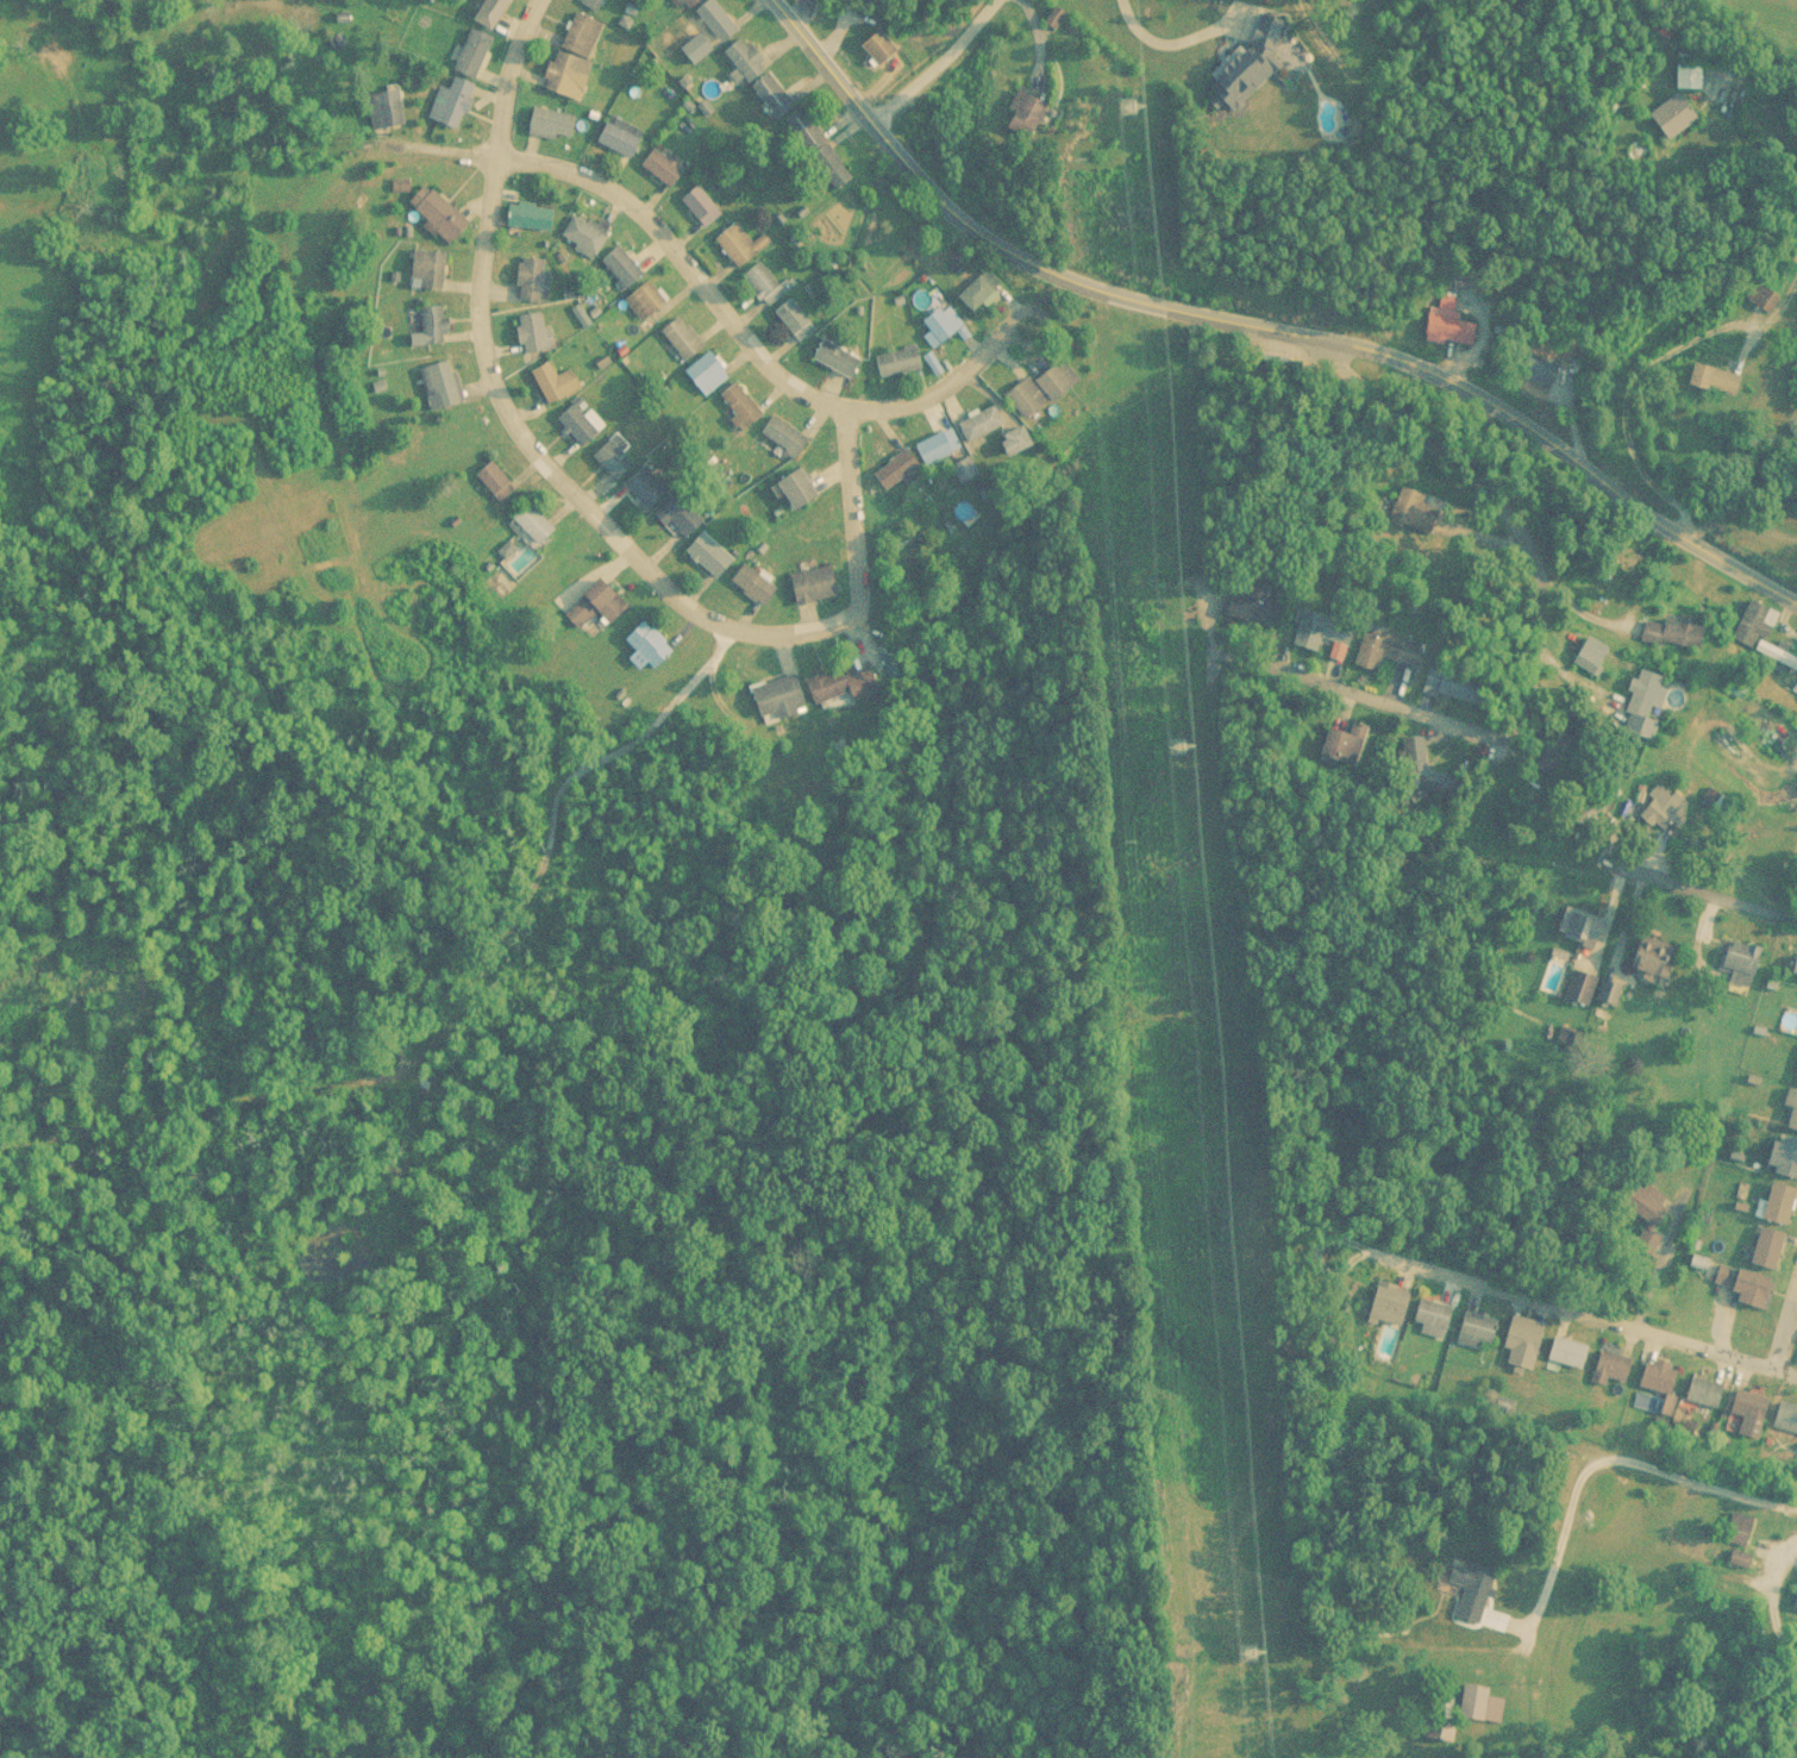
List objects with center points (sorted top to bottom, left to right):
building: (685, 2)
building: (593, 4)
building: (490, 11)
building: (1053, 15)
building: (718, 19)
building: (582, 32)
road: (1164, 44)
building: (881, 45)
building: (474, 51)
road: (935, 60)
building: (568, 74)
building: (1689, 74)
building: (760, 75)
building: (451, 101)
power tower: (1134, 105)
building: (384, 107)
building: (1028, 112)
building: (1674, 114)
building: (551, 121)
building: (619, 134)
building: (820, 148)
building: (665, 167)
building: (701, 205)
building: (439, 213)
building: (531, 214)
building: (586, 233)
building: (740, 244)
building: (1785, 264)
building: (622, 265)
building: (428, 268)
building: (533, 279)
building: (765, 283)
building: (982, 289)
building: (1765, 298)
building: (644, 300)
building: (795, 319)
road: (1260, 319)
building: (434, 321)
building: (945, 323)
building: (1452, 326)
building: (536, 331)
road: (744, 333)
building: (682, 337)
building: (838, 357)
building: (898, 361)
road: (1645, 363)
building: (708, 371)
building: (1555, 376)
road: (493, 377)
building: (1057, 378)
building: (1721, 378)
building: (557, 381)
building: (440, 383)
building: (1027, 398)
building: (741, 403)
building: (582, 423)
building: (981, 423)
building: (784, 434)
building: (1018, 439)
building: (940, 444)
building: (615, 455)
building: (965, 468)
building: (496, 481)
building: (646, 487)
building: (802, 488)
building: (680, 515)
building: (1428, 515)
building: (537, 524)
building: (515, 553)
building: (710, 553)
road: (858, 555)
building: (755, 584)
building: (814, 584)
building: (606, 598)
road: (1227, 605)
building: (1251, 605)
building: (1322, 630)
building: (1759, 631)
building: (1673, 632)
building: (649, 644)
building: (1389, 647)
building: (1591, 655)
building: (1463, 684)
building: (831, 687)
building: (781, 699)
building: (1346, 745)
power tower: (1181, 747)
road: (1474, 753)
building: (1663, 808)
road: (1699, 888)
building: (1576, 924)
building: (1657, 956)
building: (1742, 963)
building: (1795, 969)
building: (1583, 986)
building: (1610, 991)
building: (1569, 1037)
building: (1792, 1103)
building: (1786, 1156)
building: (1782, 1203)
building: (1767, 1247)
building: (1746, 1283)
building: (1390, 1307)
road: (1785, 1315)
building: (1433, 1318)
building: (1477, 1330)
building: (1524, 1341)
building: (1569, 1351)
road: (1605, 1356)
building: (1613, 1369)
building: (1657, 1384)
building: (1705, 1390)
road: (1392, 1397)
building: (1746, 1412)
building: (1785, 1418)
road: (1577, 1526)
building: (1740, 1528)
building: (1479, 1591)
building: (1796, 1603)
power tower: (1252, 1653)
building: (1480, 1704)

